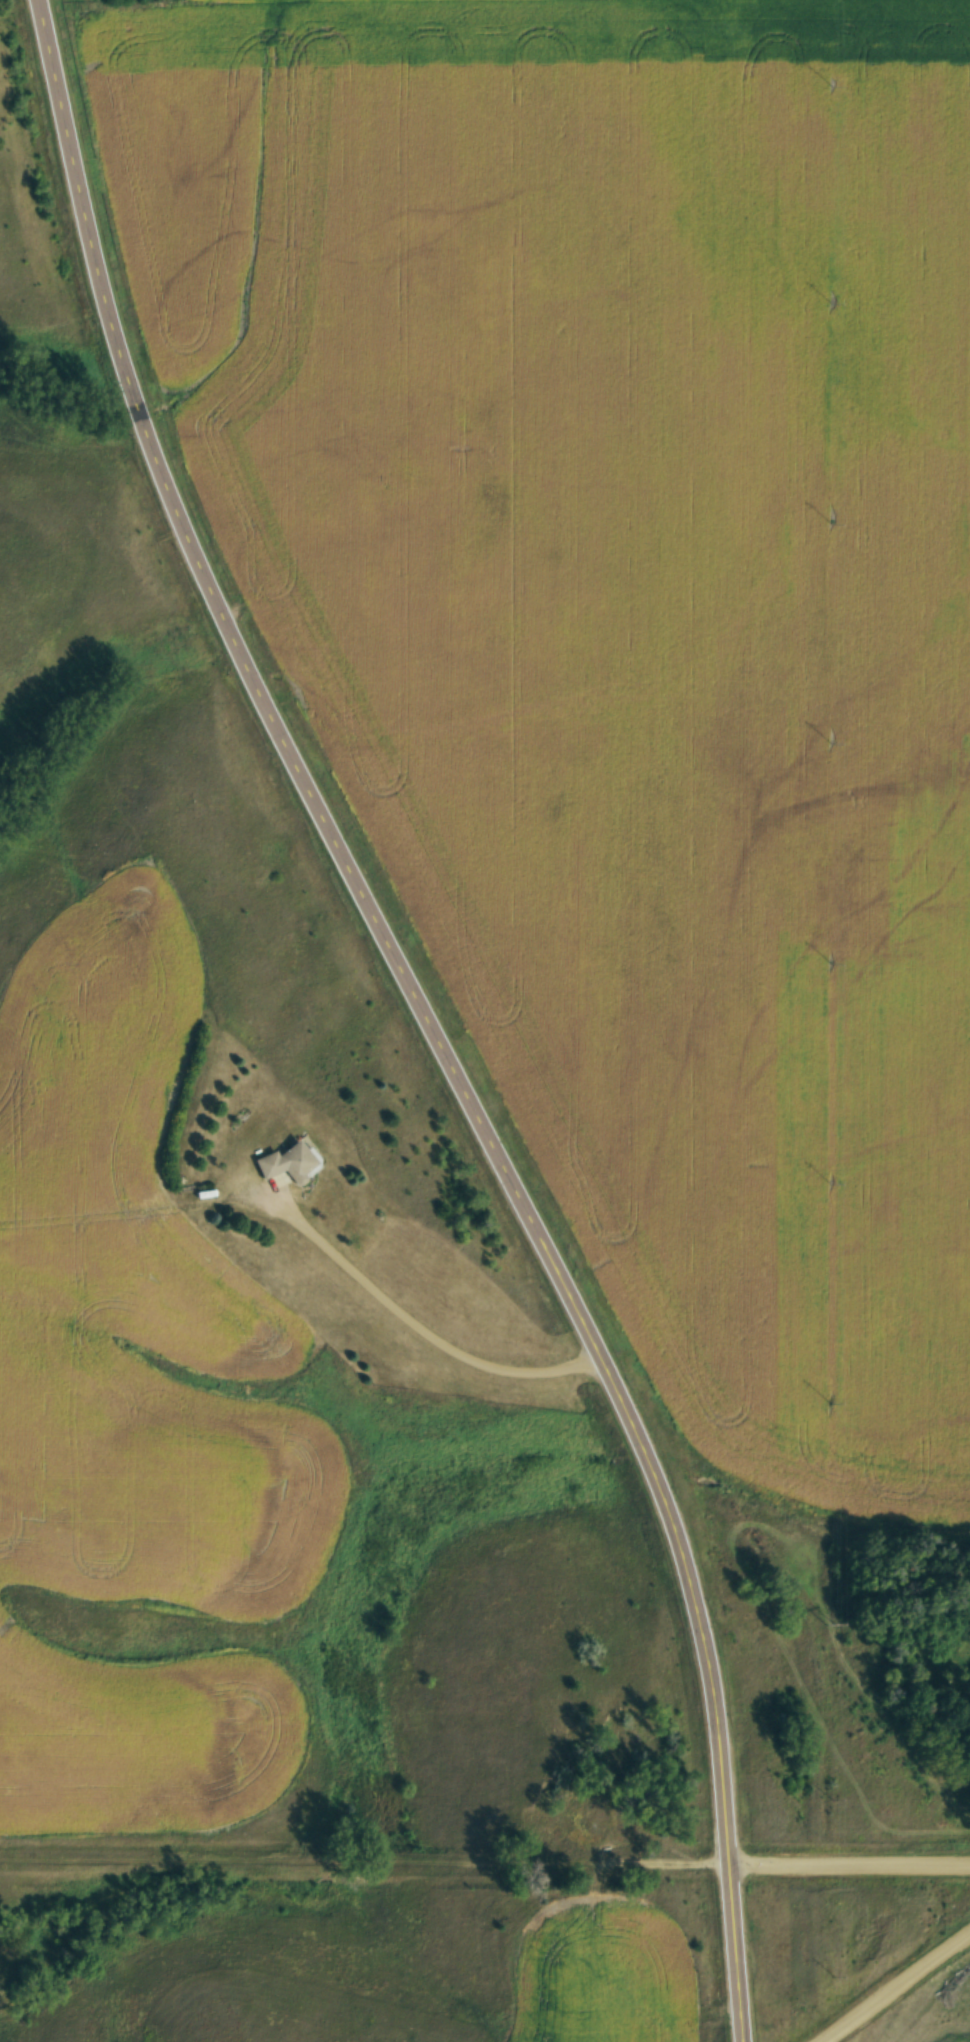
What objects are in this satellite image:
road: (425, 1014)
building: (283, 1161)
road: (415, 1323)
power tower: (834, 1622)
road: (484, 1869)
road: (888, 1982)

